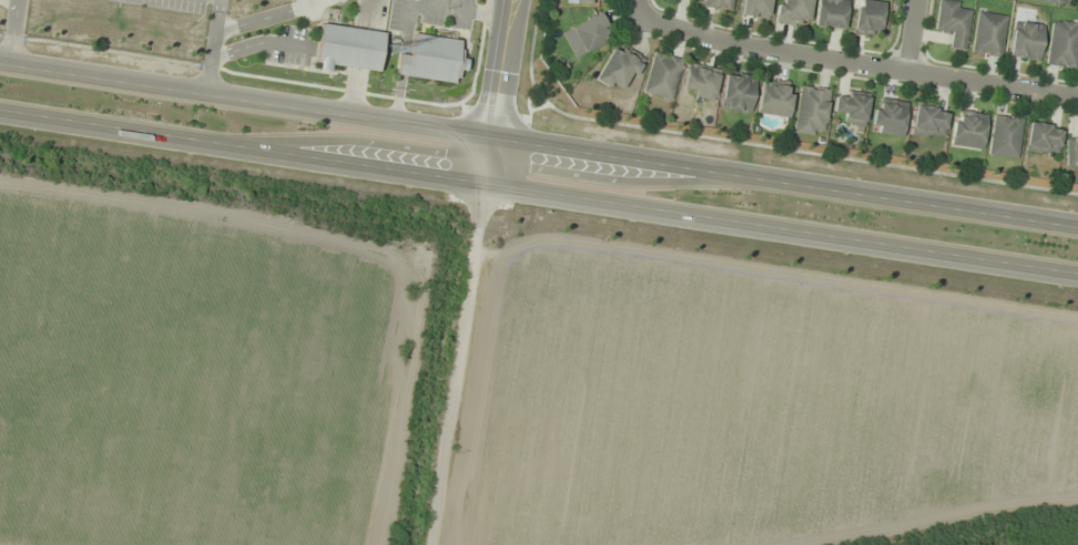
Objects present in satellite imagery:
building: (693, 0)
building: (584, 1)
building: (1055, 1)
building: (718, 4)
road: (641, 6)
building: (754, 9)
building: (792, 12)
building: (830, 14)
building: (867, 18)
building: (953, 21)
building: (588, 33)
road: (911, 34)
building: (987, 34)
building: (1025, 40)
building: (1061, 44)
building: (347, 48)
road: (858, 62)
building: (618, 68)
building: (426, 69)
building: (661, 75)
building: (700, 82)
building: (736, 92)
road: (497, 93)
building: (774, 100)
building: (851, 107)
building: (810, 111)
building: (887, 116)
building: (928, 121)
building: (967, 128)
building: (1004, 136)
building: (1041, 138)
road: (539, 144)
building: (1071, 151)
road: (538, 195)

